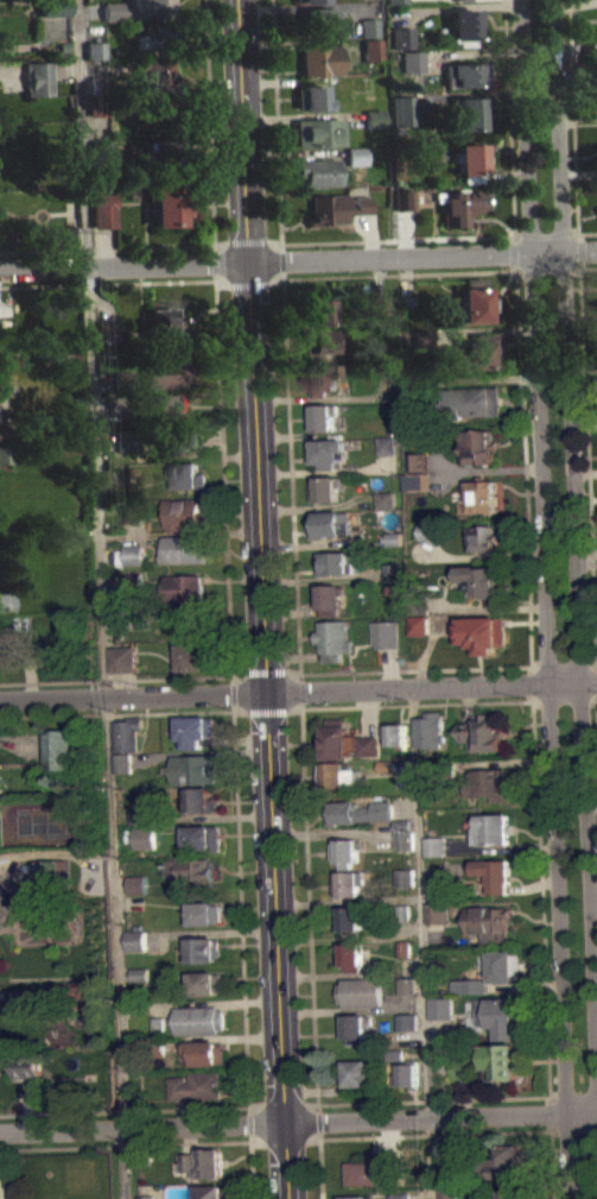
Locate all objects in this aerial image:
building: (311, 1)
building: (395, 1)
building: (463, 1)
building: (53, 7)
building: (136, 10)
building: (318, 20)
building: (465, 25)
building: (367, 26)
building: (402, 37)
building: (151, 39)
building: (370, 49)
building: (94, 50)
building: (95, 58)
building: (318, 59)
building: (413, 61)
building: (155, 71)
building: (466, 72)
building: (38, 77)
building: (62, 77)
building: (99, 84)
building: (310, 97)
building: (99, 105)
building: (402, 109)
building: (150, 111)
building: (468, 112)
building: (374, 118)
road: (573, 125)
building: (317, 131)
building: (100, 150)
building: (163, 152)
building: (355, 152)
road: (210, 156)
building: (469, 160)
building: (356, 164)
building: (315, 171)
building: (404, 198)
building: (459, 203)
building: (335, 208)
building: (164, 213)
building: (100, 219)
road: (588, 232)
building: (71, 235)
road: (430, 238)
building: (71, 247)
road: (107, 250)
road: (298, 258)
road: (582, 265)
road: (379, 274)
road: (108, 283)
building: (407, 303)
building: (475, 303)
building: (381, 304)
building: (322, 311)
building: (404, 320)
building: (167, 323)
building: (107, 330)
building: (423, 336)
building: (318, 342)
building: (479, 349)
building: (385, 371)
building: (169, 372)
building: (123, 378)
building: (323, 378)
building: (411, 389)
building: (474, 400)
building: (146, 405)
building: (324, 416)
building: (1, 430)
building: (127, 440)
building: (180, 440)
building: (385, 444)
building: (478, 446)
building: (329, 452)
building: (5, 453)
building: (415, 461)
road: (588, 466)
building: (417, 471)
building: (132, 472)
building: (188, 475)
building: (414, 481)
building: (325, 488)
building: (415, 488)
building: (479, 496)
building: (386, 499)
building: (385, 507)
building: (133, 513)
road: (224, 513)
building: (185, 515)
building: (330, 522)
building: (133, 523)
building: (427, 530)
road: (574, 532)
building: (393, 537)
building: (484, 537)
building: (427, 539)
building: (184, 549)
building: (134, 554)
building: (334, 562)
building: (394, 570)
building: (133, 580)
building: (484, 581)
building: (185, 586)
building: (395, 588)
building: (133, 589)
building: (331, 598)
road: (102, 599)
road: (260, 599)
road: (294, 599)
road: (528, 599)
road: (545, 599)
building: (421, 601)
building: (6, 602)
building: (192, 620)
building: (420, 624)
building: (484, 632)
building: (387, 633)
building: (423, 633)
building: (335, 639)
building: (192, 656)
building: (121, 658)
road: (580, 663)
road: (414, 669)
road: (115, 679)
road: (298, 692)
road: (565, 700)
road: (417, 702)
road: (133, 713)
building: (193, 730)
building: (432, 730)
building: (127, 733)
building: (484, 733)
building: (398, 734)
building: (338, 739)
building: (369, 746)
building: (57, 749)
building: (123, 762)
building: (447, 764)
building: (390, 765)
building: (193, 769)
building: (339, 775)
building: (491, 783)
building: (202, 800)
building: (358, 812)
building: (138, 814)
park: (47, 821)
building: (362, 821)
building: (404, 823)
building: (493, 828)
building: (144, 838)
building: (204, 838)
building: (405, 839)
building: (436, 845)
building: (349, 851)
building: (437, 854)
building: (192, 867)
building: (495, 873)
building: (51, 876)
building: (405, 876)
building: (349, 883)
building: (135, 884)
building: (405, 885)
road: (239, 891)
building: (136, 892)
building: (437, 895)
building: (404, 911)
building: (437, 911)
building: (205, 913)
building: (350, 920)
building: (488, 922)
building: (134, 940)
road: (423, 942)
building: (404, 947)
building: (205, 949)
building: (353, 955)
building: (504, 965)
building: (139, 974)
building: (139, 983)
building: (207, 983)
building: (407, 985)
building: (471, 985)
building: (361, 991)
building: (80, 993)
building: (471, 995)
building: (442, 1008)
building: (502, 1015)
building: (199, 1020)
building: (407, 1022)
building: (159, 1024)
building: (355, 1028)
building: (409, 1036)
building: (155, 1045)
building: (208, 1050)
building: (396, 1054)
building: (504, 1060)
building: (27, 1065)
building: (461, 1068)
building: (409, 1073)
building: (358, 1075)
building: (462, 1078)
building: (196, 1085)
road: (572, 1094)
road: (415, 1100)
road: (123, 1110)
road: (248, 1115)
road: (298, 1122)
road: (573, 1129)
road: (433, 1134)
road: (300, 1138)
road: (132, 1143)
road: (249, 1153)
building: (447, 1160)
building: (204, 1162)
building: (506, 1162)
building: (377, 1168)
building: (189, 1170)
building: (212, 1192)
building: (449, 1192)
building: (509, 1192)
building: (401, 1195)
building: (146, 1197)
building: (360, 1197)

